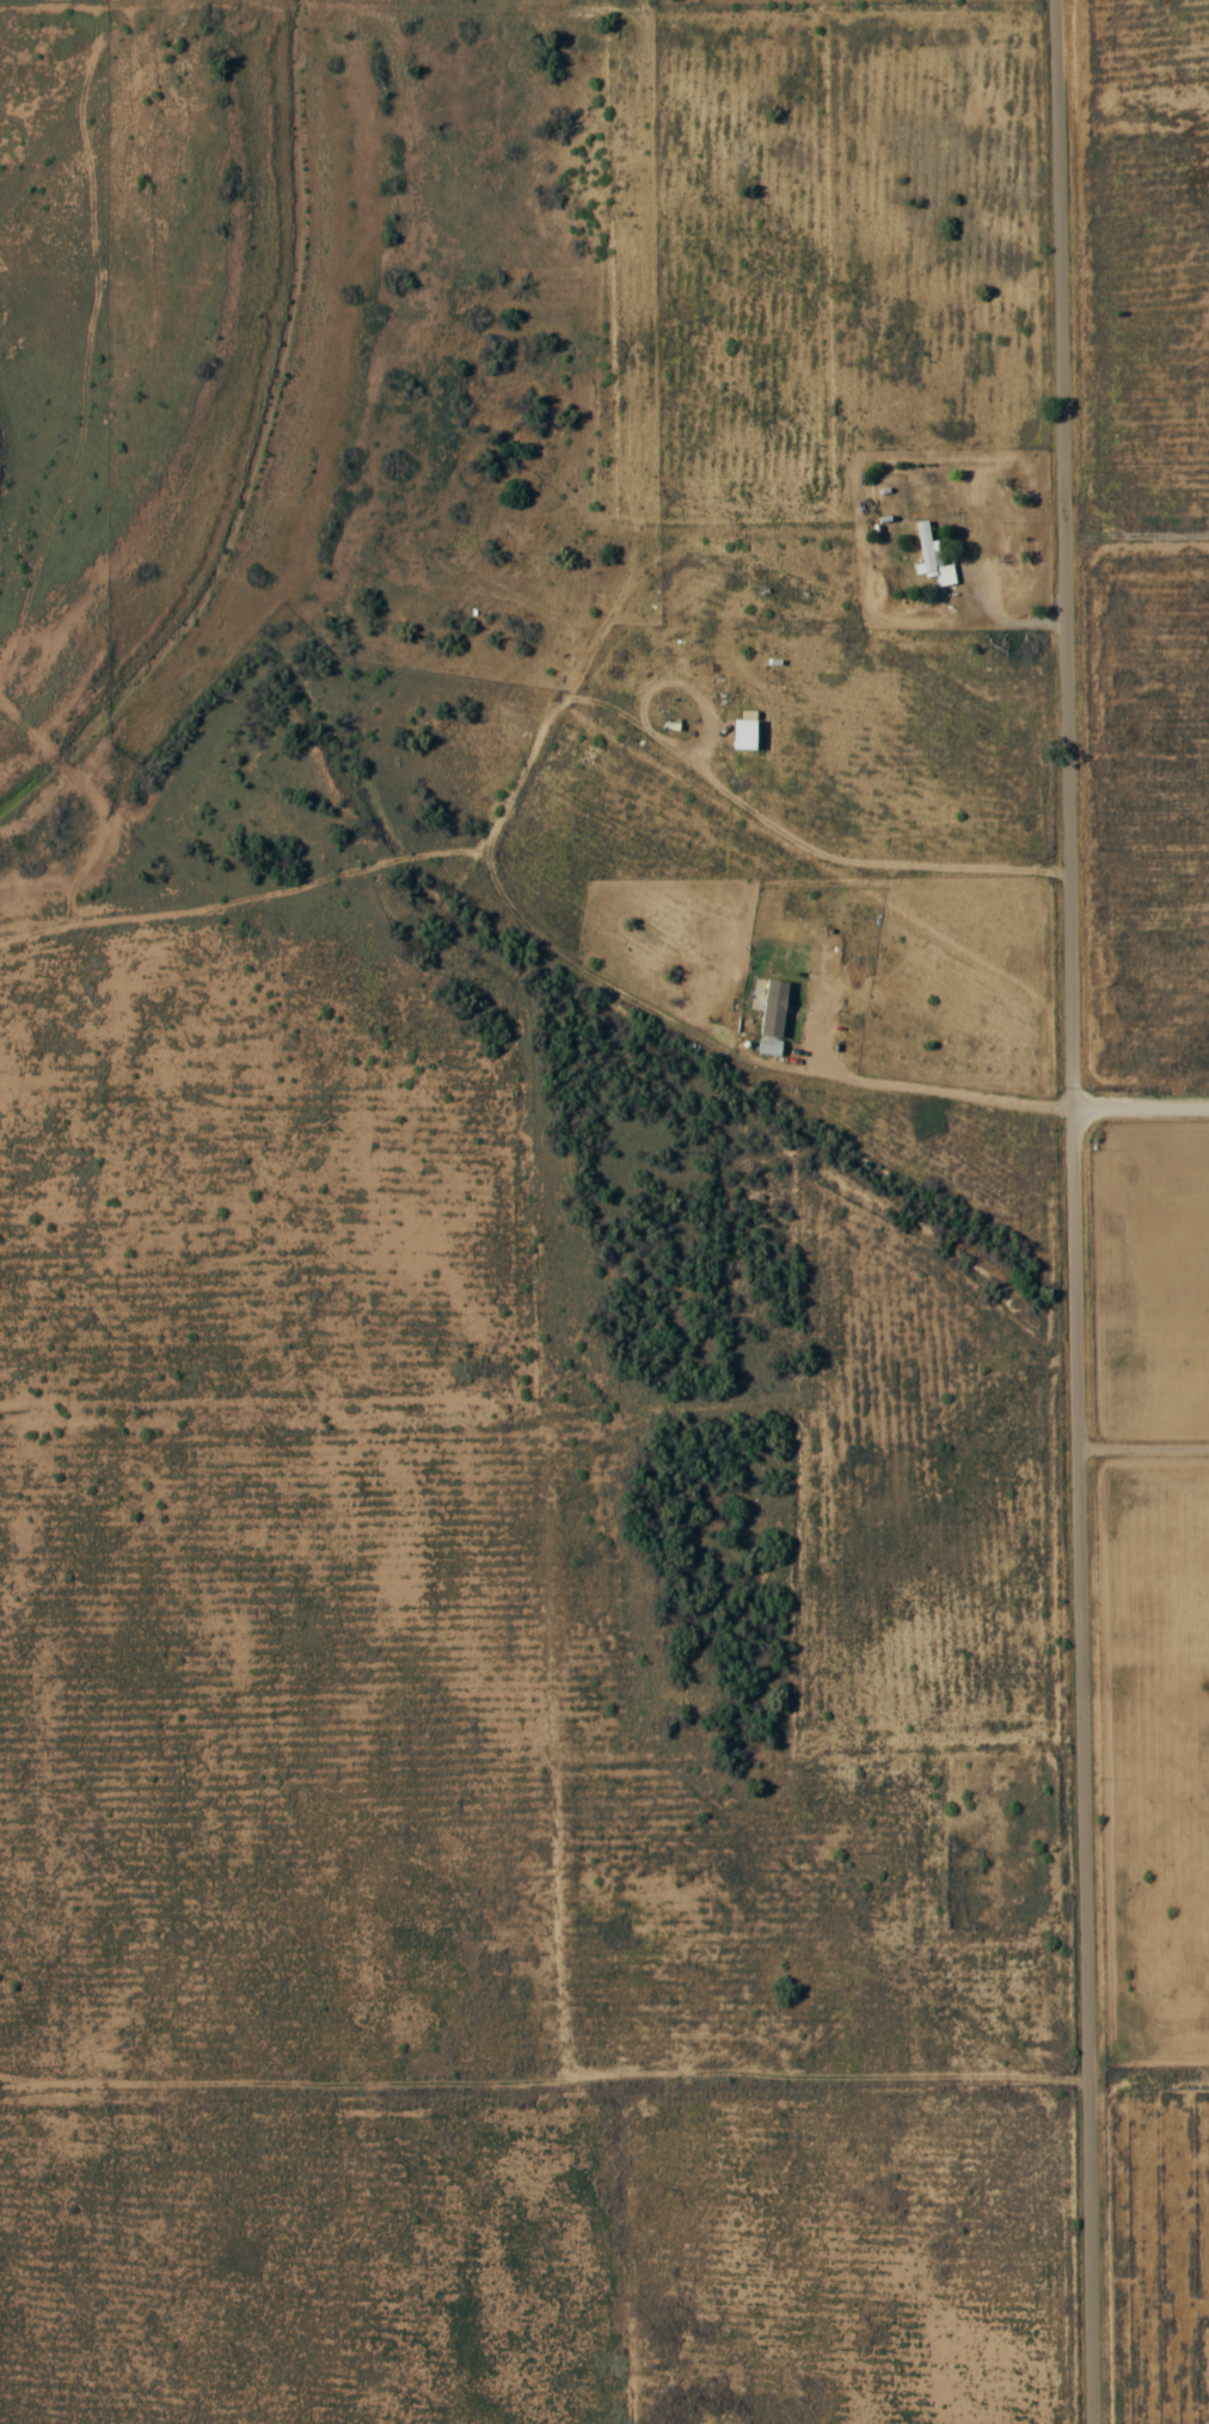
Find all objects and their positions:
road: (1135, 534)
building: (933, 558)
building: (747, 734)
building: (774, 1007)
road: (1139, 1107)
road: (1069, 1211)

